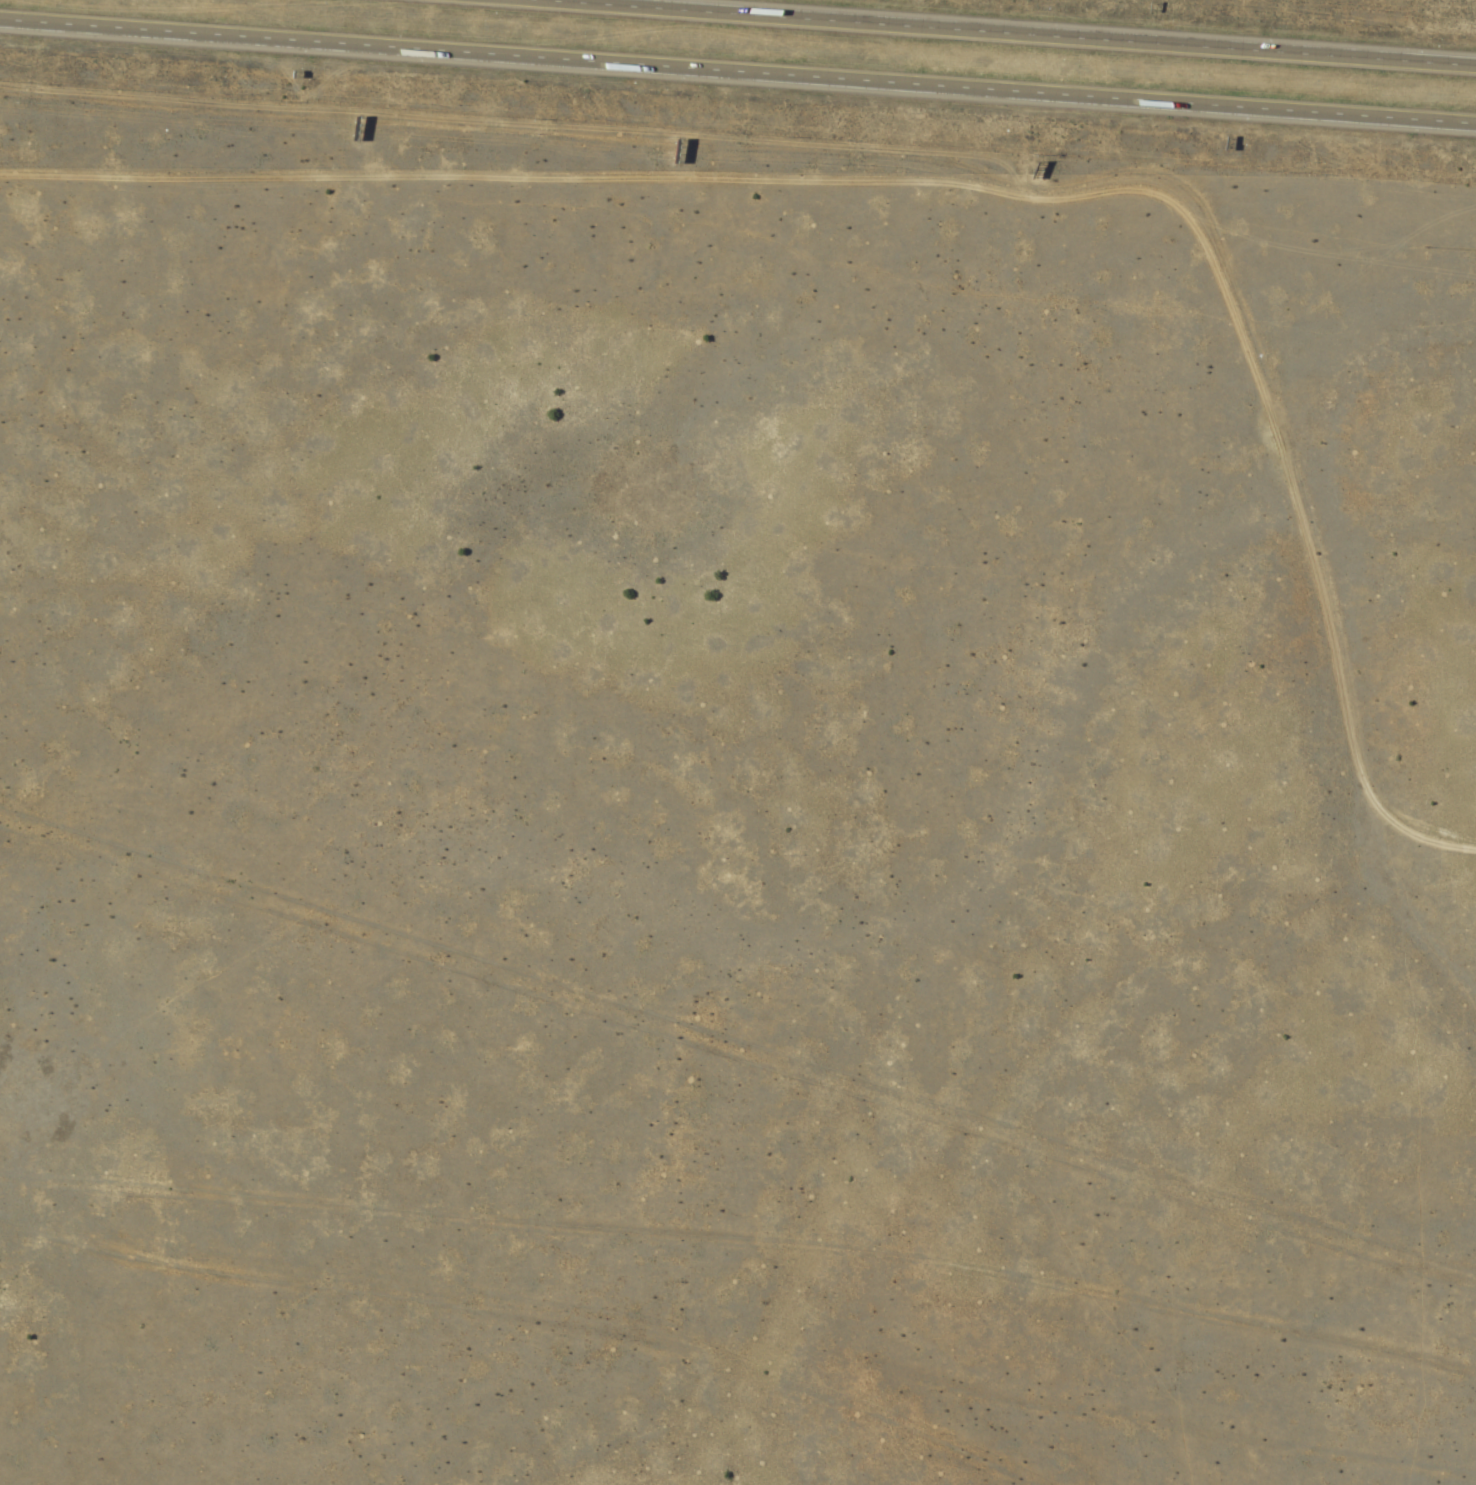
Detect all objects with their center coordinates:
road: (992, 34)
road: (738, 73)
road: (941, 188)
road: (1451, 846)

